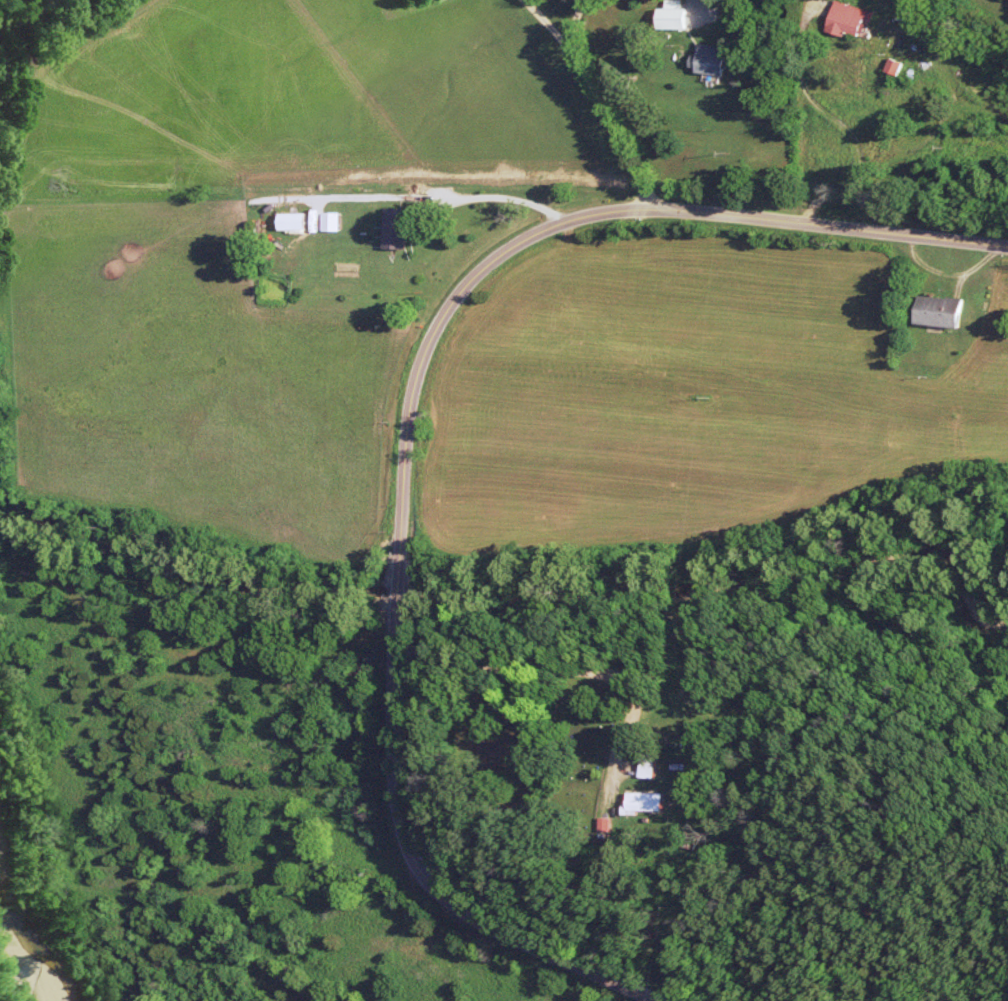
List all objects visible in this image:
road: (701, 9)
building: (673, 16)
building: (849, 19)
road: (575, 37)
building: (712, 60)
building: (895, 67)
road: (598, 97)
building: (396, 228)
building: (939, 312)
road: (405, 424)
building: (650, 765)
building: (646, 803)
river: (18, 946)

